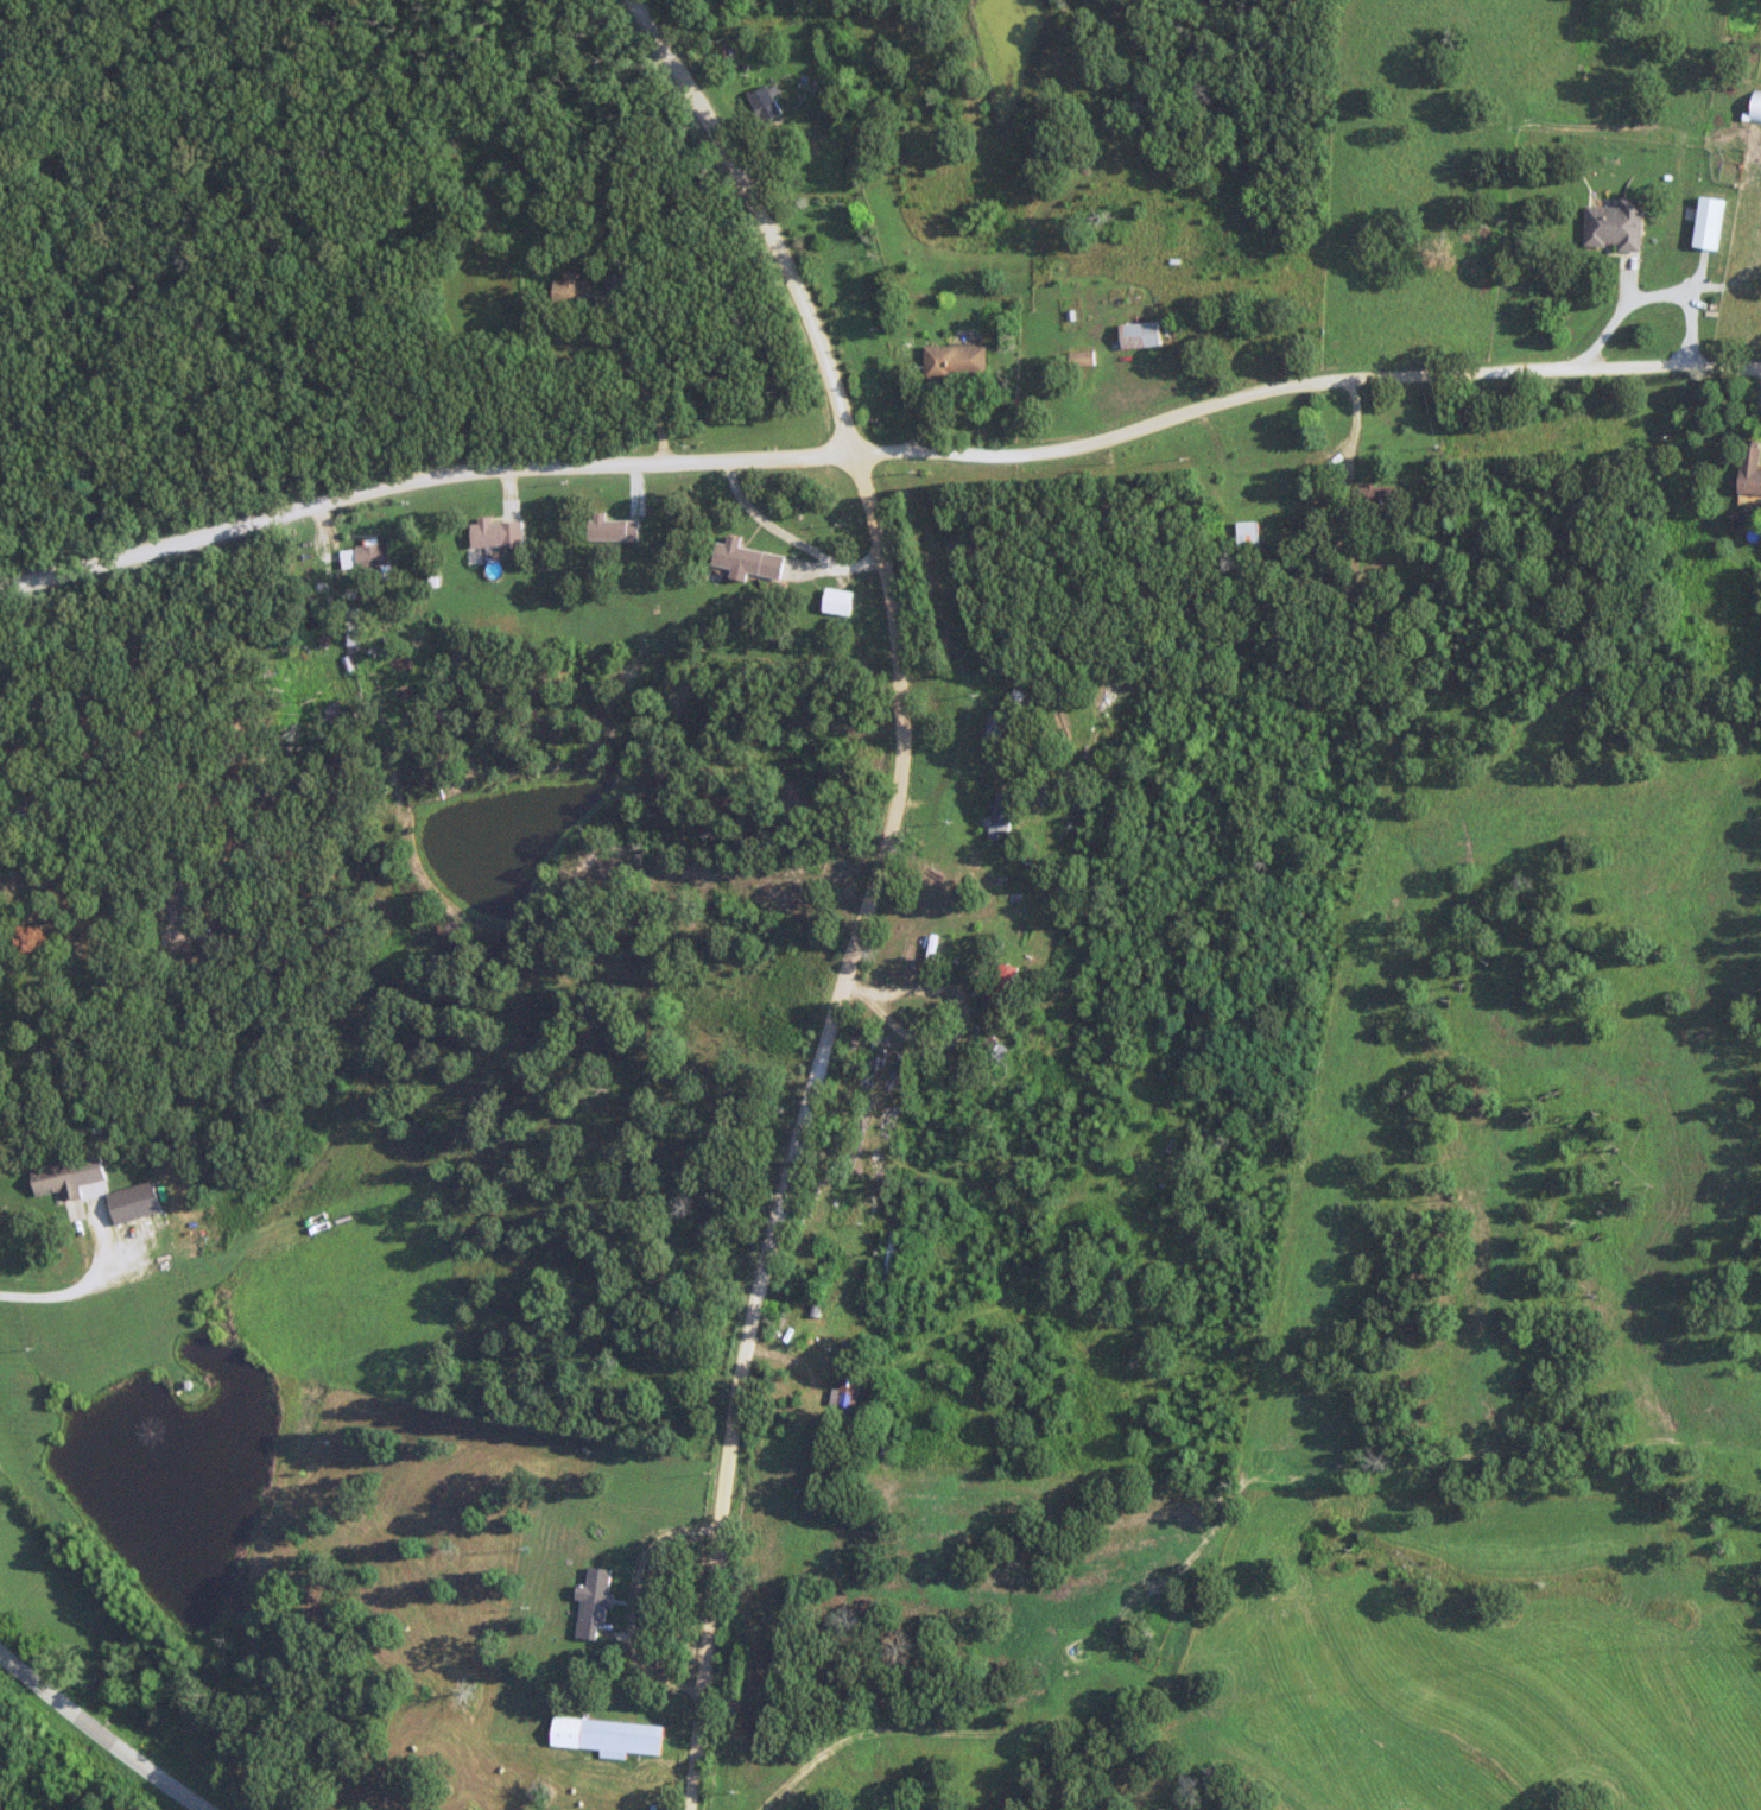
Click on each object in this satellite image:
building: (1755, 108)
building: (1708, 222)
building: (1613, 226)
building: (566, 289)
road: (1647, 300)
building: (1138, 334)
building: (1079, 357)
building: (954, 360)
road: (1298, 382)
building: (1749, 470)
road: (417, 477)
building: (1373, 495)
road: (32, 504)
road: (1303, 515)
building: (607, 530)
building: (495, 533)
building: (1247, 533)
road: (785, 537)
building: (372, 556)
building: (745, 559)
building: (836, 601)
building: (353, 626)
building: (993, 730)
building: (999, 817)
road: (872, 881)
building: (1001, 988)
building: (989, 1048)
building: (55, 1179)
building: (889, 1258)
road: (87, 1284)
building: (847, 1387)
building: (591, 1601)
road: (103, 1736)
building: (604, 1736)
building: (655, 1808)

